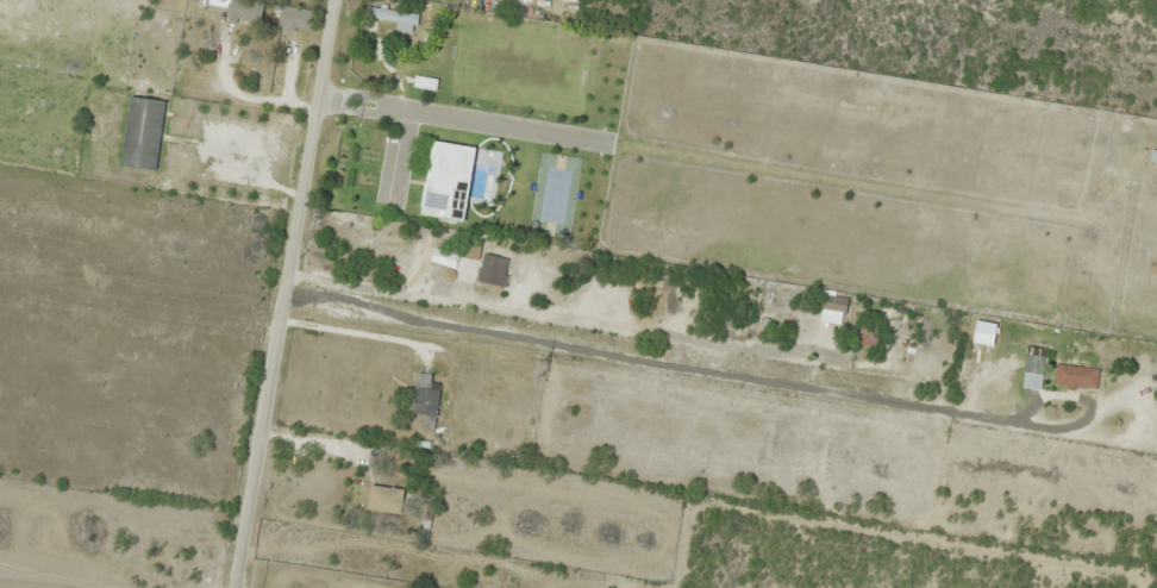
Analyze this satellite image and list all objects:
building: (245, 8)
building: (293, 15)
building: (390, 23)
building: (387, 108)
building: (143, 133)
building: (531, 267)
building: (494, 270)
road: (261, 293)
building: (833, 304)
road: (637, 342)
building: (919, 345)
building: (1033, 364)
power tower: (543, 368)
building: (1071, 376)
building: (425, 400)
building: (458, 434)
building: (384, 499)

